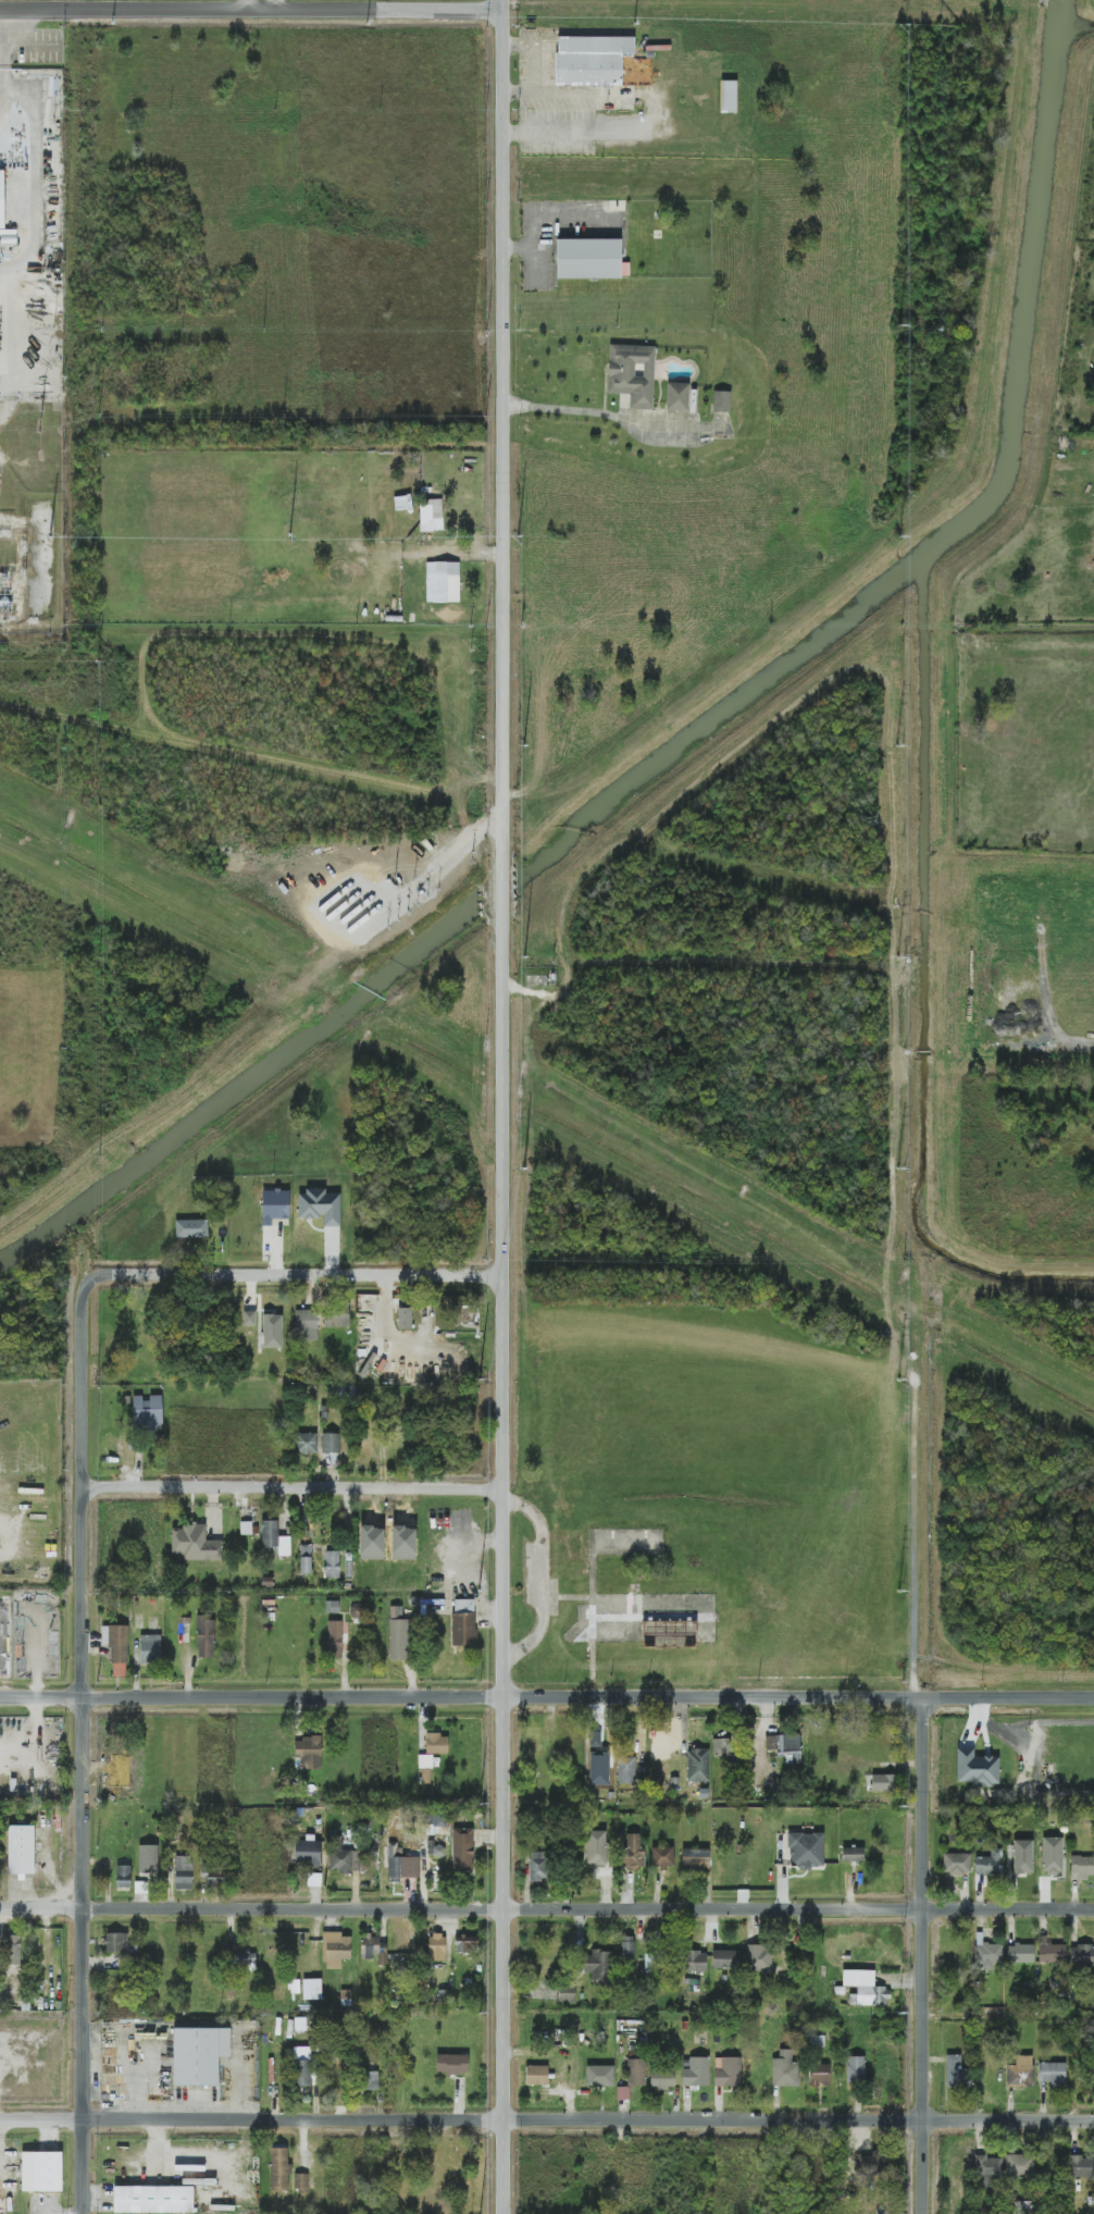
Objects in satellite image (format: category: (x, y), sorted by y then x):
road: (274, 4)
road: (251, 9)
road: (1, 37)
road: (0, 44)
building: (590, 60)
road: (0, 70)
building: (729, 96)
building: (2, 198)
road: (544, 218)
road: (36, 227)
building: (588, 258)
road: (533, 264)
power tower: (899, 324)
building: (632, 374)
building: (677, 396)
building: (721, 401)
road: (604, 415)
road: (504, 429)
building: (402, 503)
building: (431, 515)
power substation: (32, 517)
power tower: (899, 536)
building: (443, 582)
power tower: (897, 745)
road: (502, 887)
power tower: (897, 957)
power tower: (898, 1170)
building: (274, 1205)
building: (320, 1207)
building: (191, 1228)
road: (291, 1276)
building: (336, 1315)
building: (249, 1318)
building: (405, 1318)
building: (307, 1325)
building: (272, 1331)
power tower: (898, 1381)
road: (505, 1410)
building: (147, 1411)
building: (306, 1443)
building: (331, 1443)
road: (295, 1491)
building: (274, 1538)
building: (195, 1544)
building: (306, 1559)
building: (332, 1564)
power tower: (902, 1594)
road: (84, 1599)
building: (464, 1622)
building: (206, 1636)
building: (334, 1638)
building: (399, 1640)
building: (117, 1648)
building: (150, 1649)
road: (546, 1696)
building: (664, 1739)
building: (597, 1741)
building: (437, 1744)
building: (721, 1747)
building: (785, 1747)
building: (308, 1753)
building: (425, 1761)
building: (698, 1765)
building: (977, 1768)
building: (626, 1770)
building: (115, 1779)
building: (880, 1782)
building: (437, 1819)
building: (596, 1847)
building: (463, 1848)
building: (21, 1850)
building: (806, 1850)
building: (438, 1851)
building: (308, 1852)
building: (633, 1853)
building: (853, 1854)
building: (1052, 1855)
building: (1022, 1856)
building: (662, 1857)
building: (148, 1858)
building: (695, 1858)
building: (341, 1862)
building: (956, 1863)
building: (990, 1863)
building: (402, 1865)
building: (538, 1866)
building: (1081, 1867)
building: (184, 1872)
building: (123, 1877)
building: (215, 1878)
road: (546, 1907)
building: (115, 1942)
building: (465, 1944)
building: (437, 1946)
building: (627, 1947)
building: (373, 1949)
building: (13, 1950)
building: (336, 1950)
building: (1020, 1953)
building: (1052, 1953)
road: (923, 1955)
building: (989, 1955)
building: (1082, 1955)
building: (759, 1957)
building: (725, 1958)
building: (244, 1959)
building: (696, 1962)
building: (650, 1963)
building: (599, 1965)
building: (865, 1988)
building: (316, 1989)
building: (567, 1994)
power tower: (898, 2014)
road: (1009, 2016)
building: (199, 2055)
road: (83, 2060)
road: (505, 2061)
building: (452, 2064)
building: (302, 2066)
building: (785, 2069)
building: (855, 2069)
building: (728, 2071)
building: (956, 2071)
building: (636, 2073)
building: (696, 2073)
building: (1020, 2073)
building: (1053, 2074)
building: (536, 2075)
building: (820, 2075)
building: (600, 2076)
building: (662, 2078)
building: (371, 2080)
building: (623, 2092)
road: (547, 2119)
building: (871, 2161)
building: (1020, 2165)
building: (1081, 2167)
building: (279, 2168)
building: (41, 2172)
building: (987, 2172)
building: (301, 2181)
building: (153, 2199)

